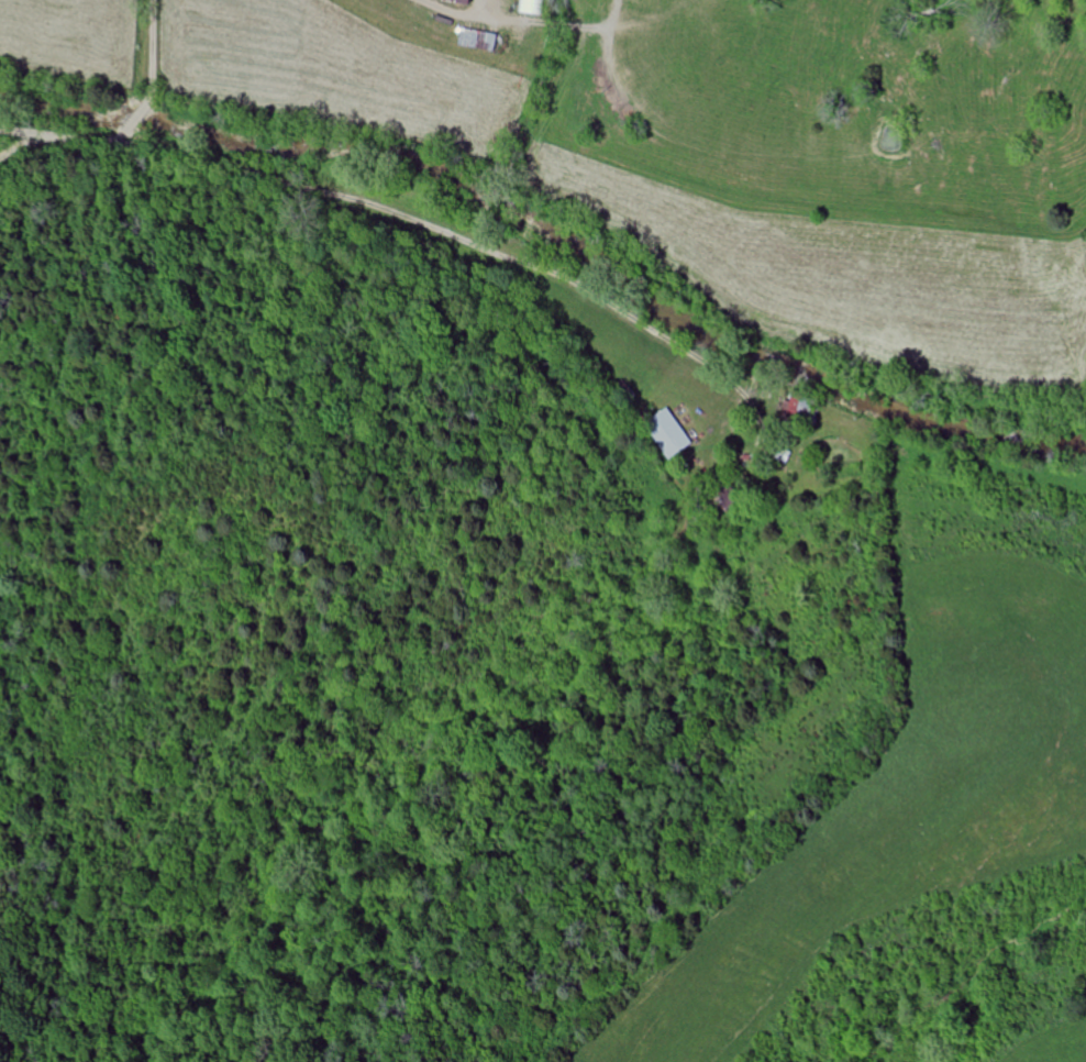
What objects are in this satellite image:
building: (461, 2)
road: (436, 7)
building: (532, 8)
building: (479, 41)
road: (143, 101)
road: (27, 133)
building: (668, 434)

